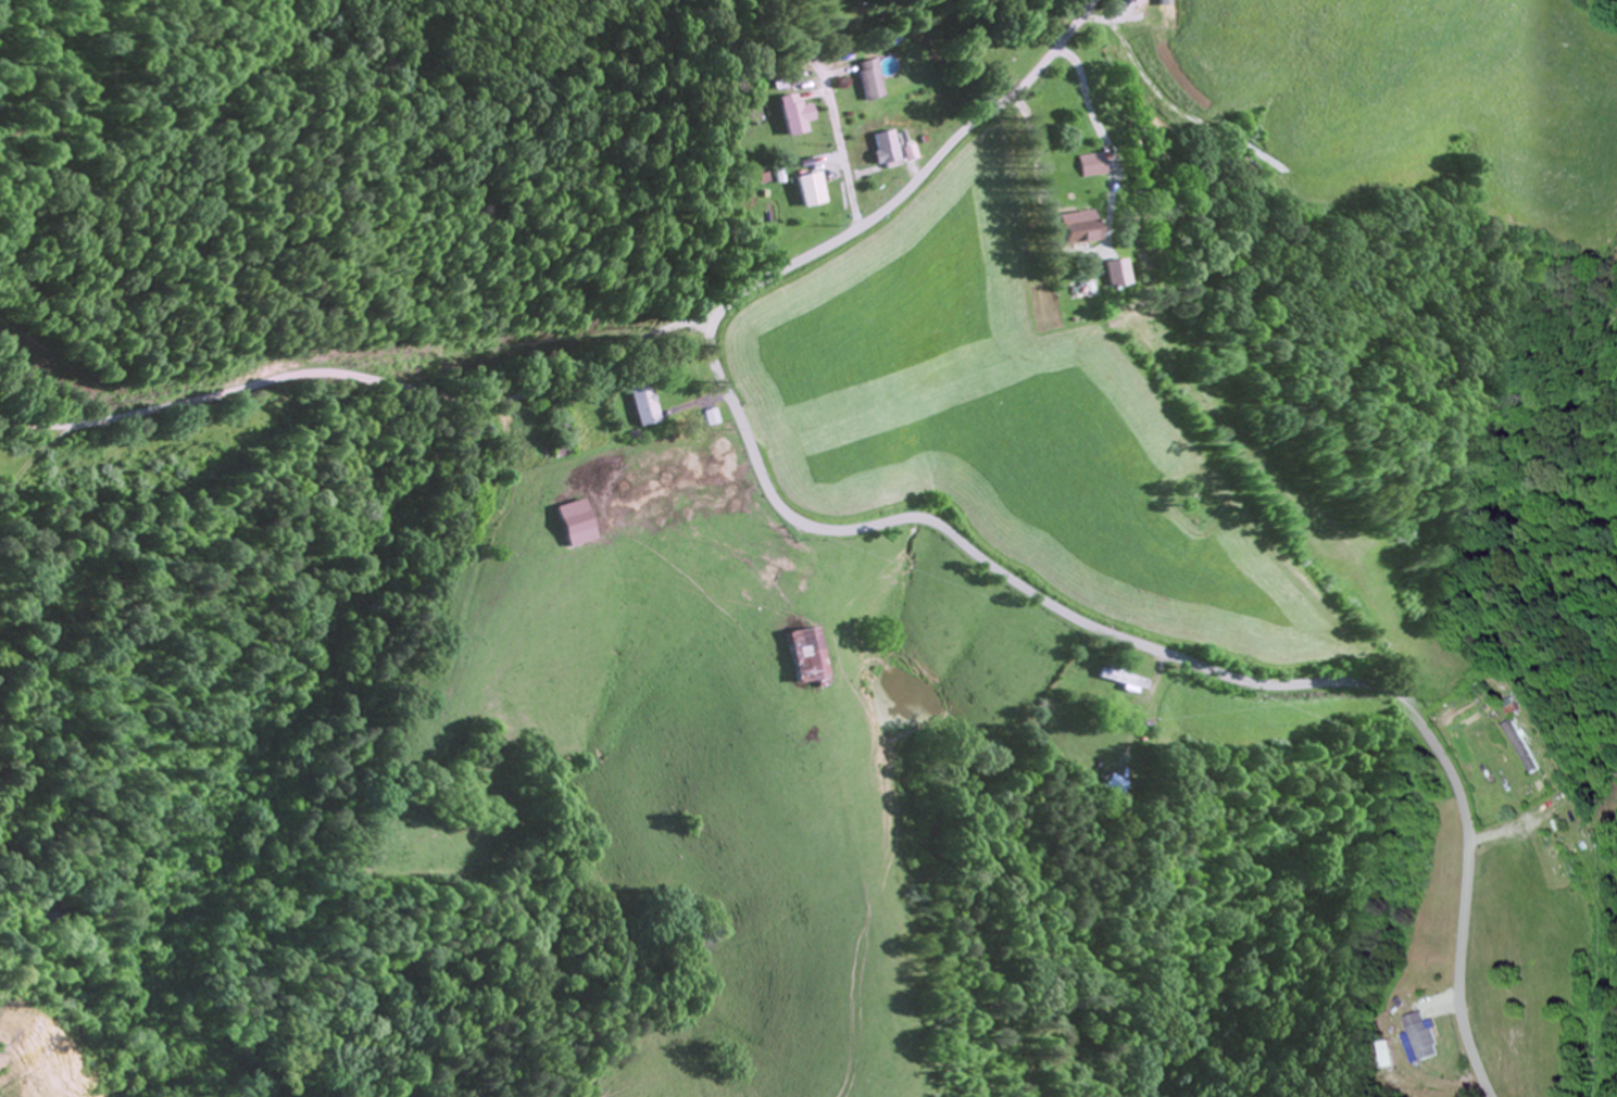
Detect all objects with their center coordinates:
building: (863, 81)
building: (794, 116)
road: (831, 137)
building: (882, 150)
building: (1081, 167)
building: (811, 192)
building: (1061, 232)
building: (1095, 275)
road: (363, 381)
building: (640, 403)
building: (706, 418)
road: (957, 543)
building: (806, 657)
building: (1522, 709)
building: (1529, 747)
building: (1424, 1037)

